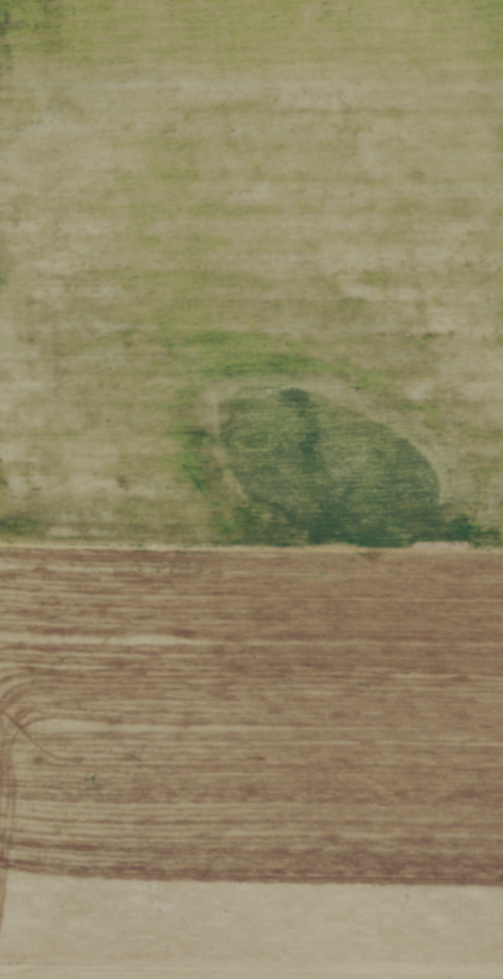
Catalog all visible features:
crop: (251, 489)

